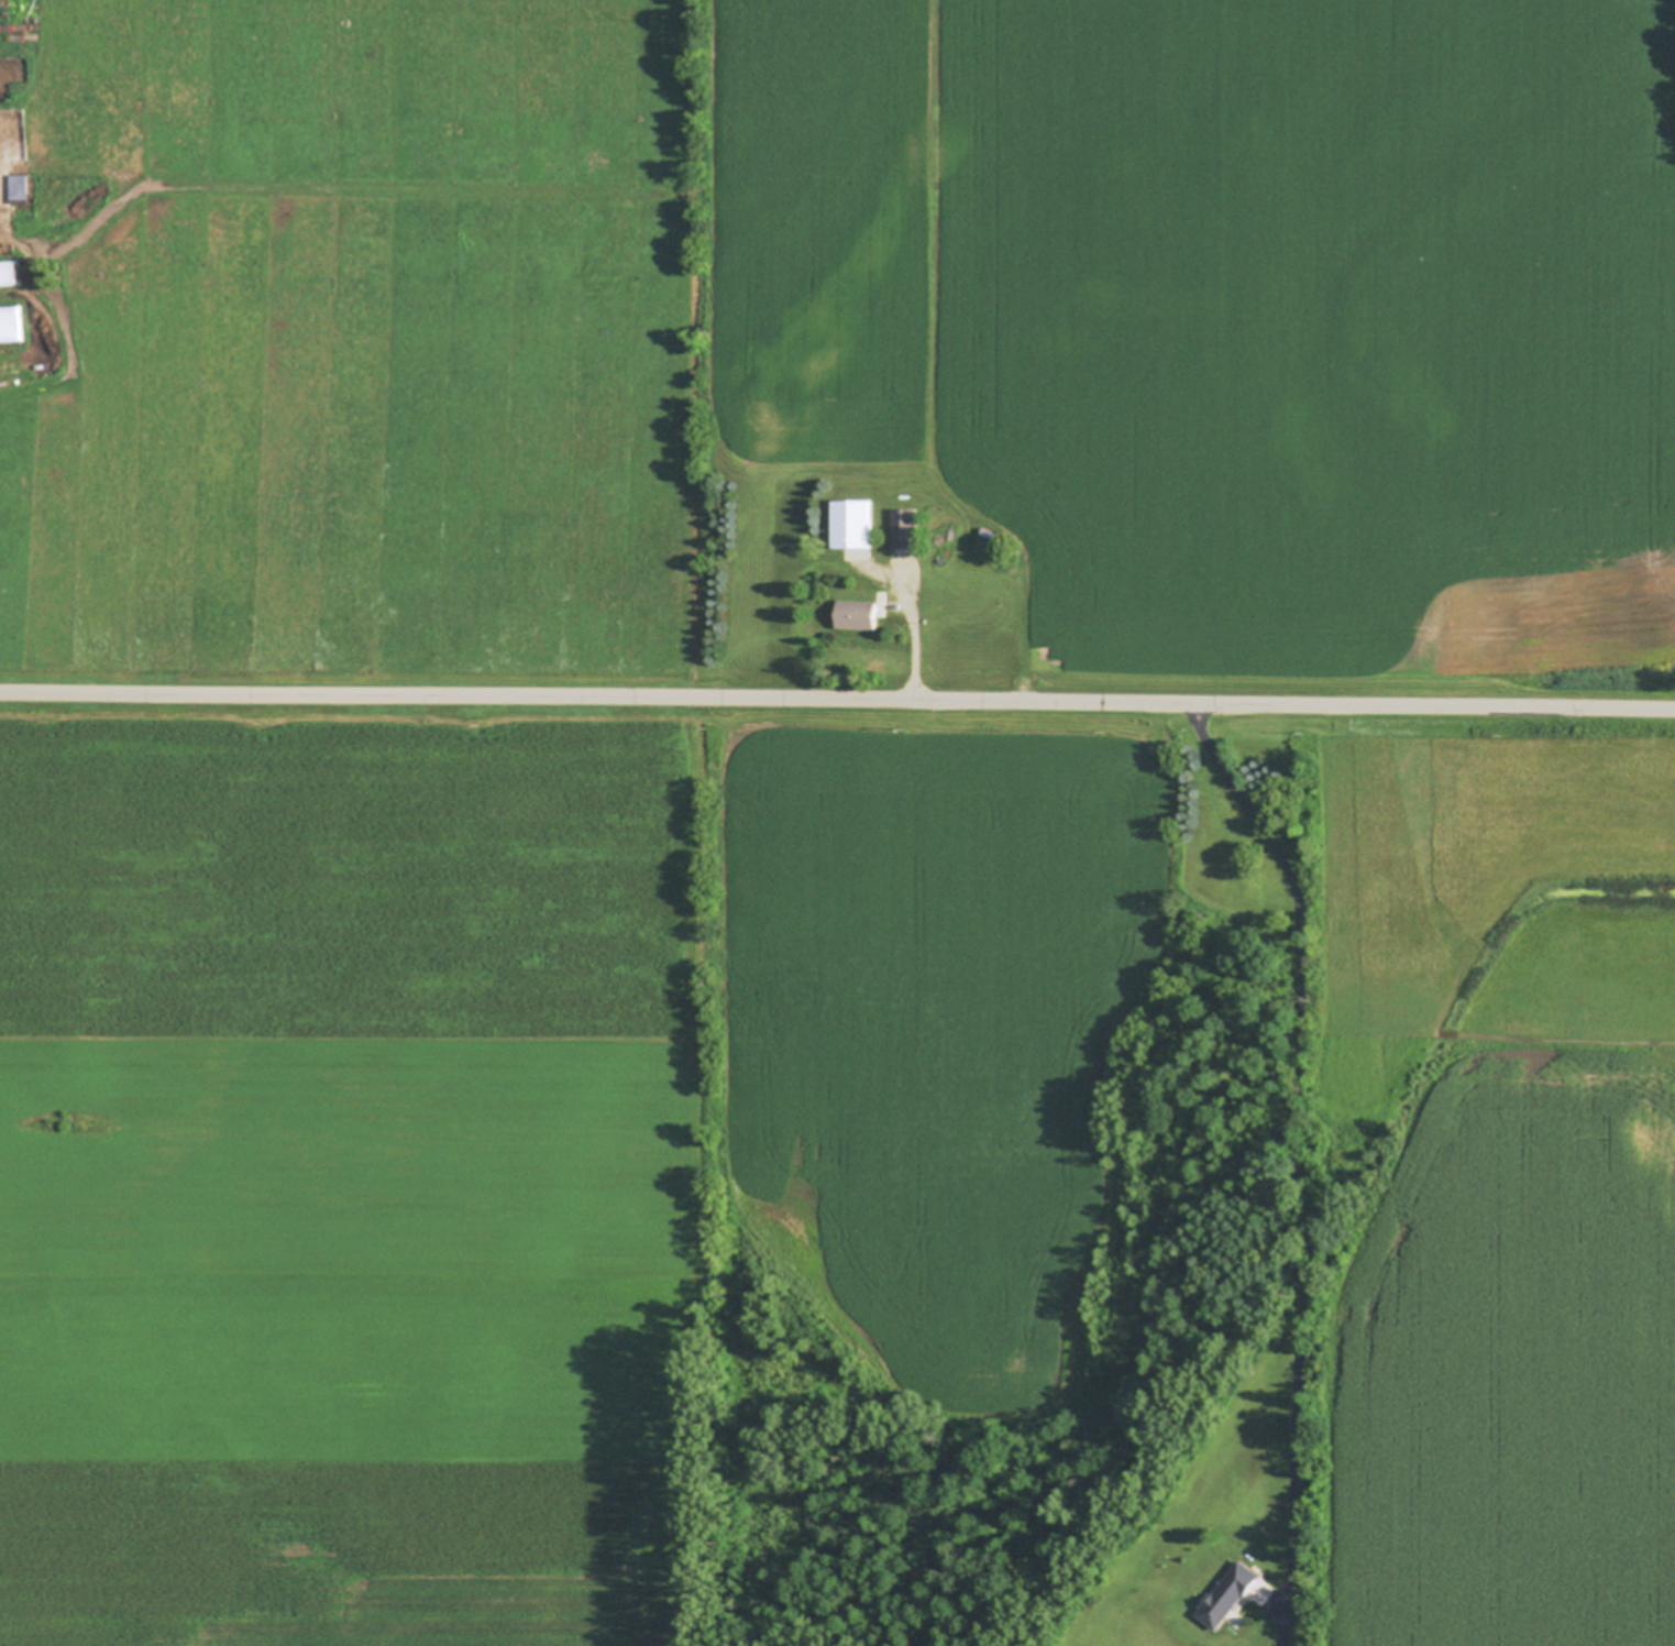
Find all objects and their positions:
building: (20, 187)
building: (10, 270)
building: (11, 327)
building: (853, 522)
building: (905, 528)
building: (991, 533)
building: (989, 556)
building: (857, 614)
road: (837, 701)
road: (1303, 1160)
building: (1231, 1593)

